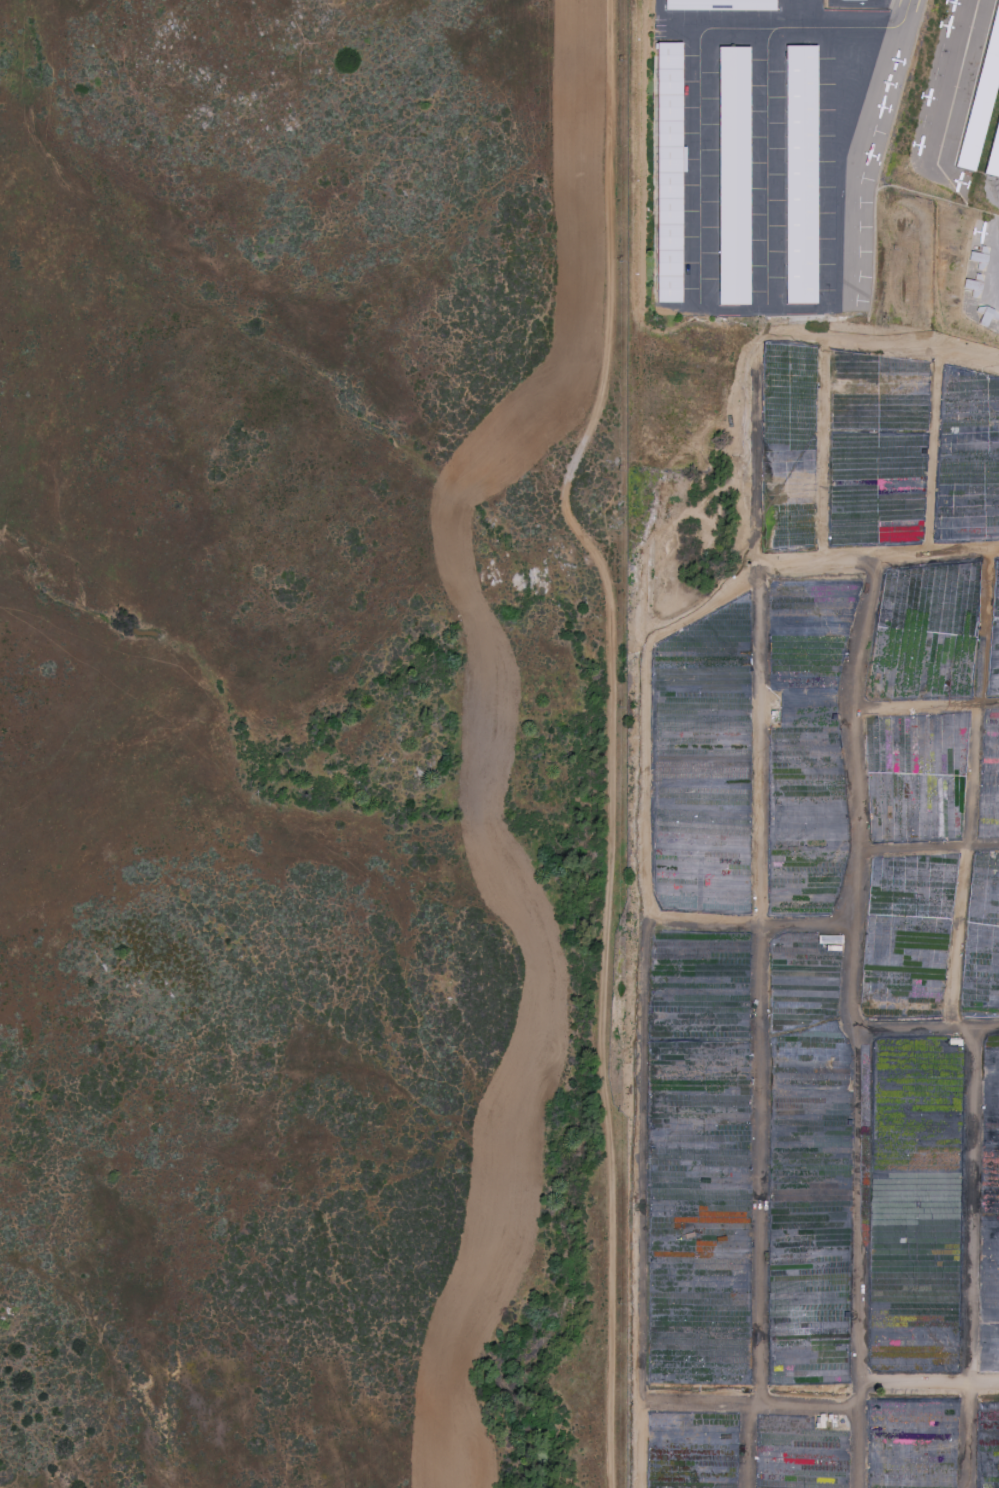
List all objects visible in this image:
building: (852, 0)
building: (720, 5)
airport taxiway: (700, 53)
airport taxiway: (957, 81)
building: (981, 98)
building: (994, 154)
airport: (815, 164)
airport taxiway: (849, 164)
airport taxiway: (767, 168)
building: (669, 172)
building: (801, 175)
building: (733, 176)
road: (611, 734)

